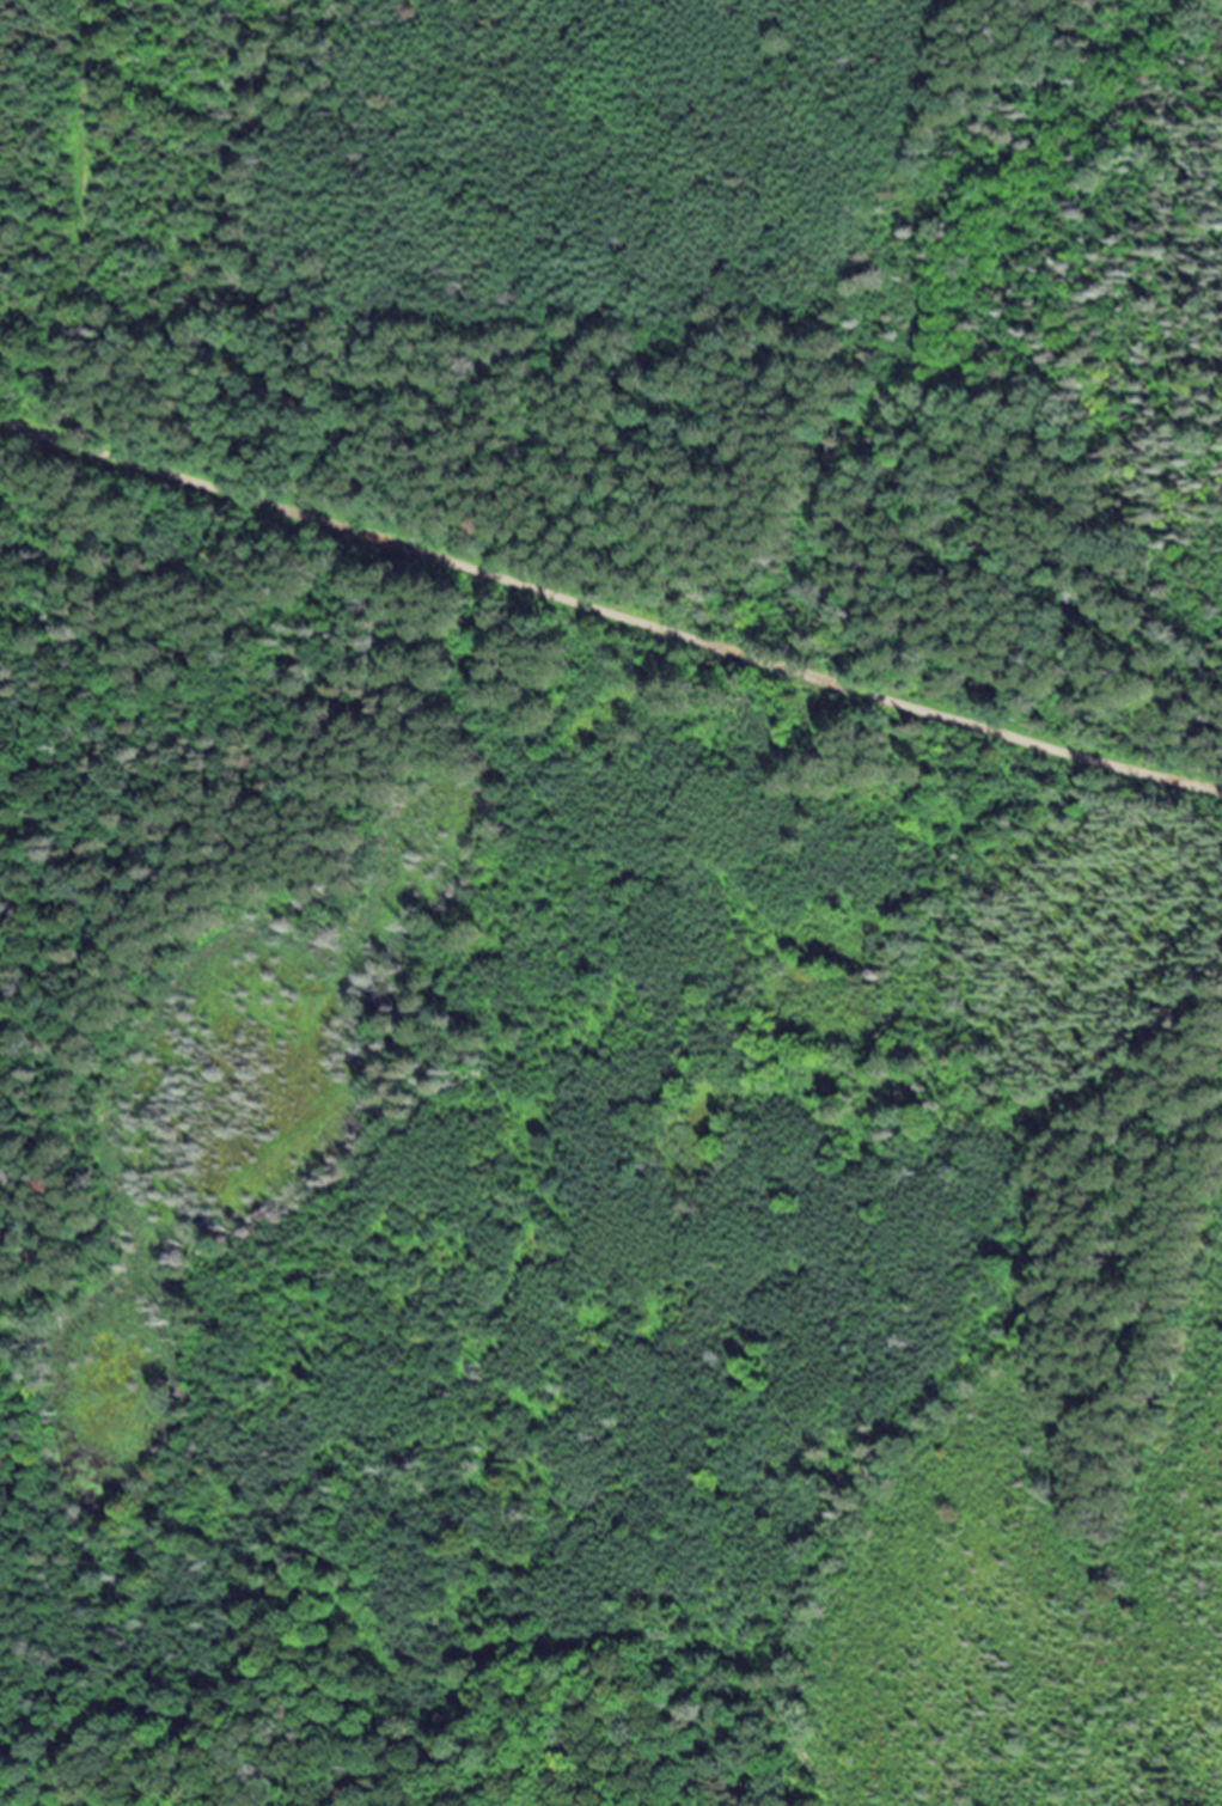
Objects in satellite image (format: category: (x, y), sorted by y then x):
road: (80, 222)
road: (609, 611)

